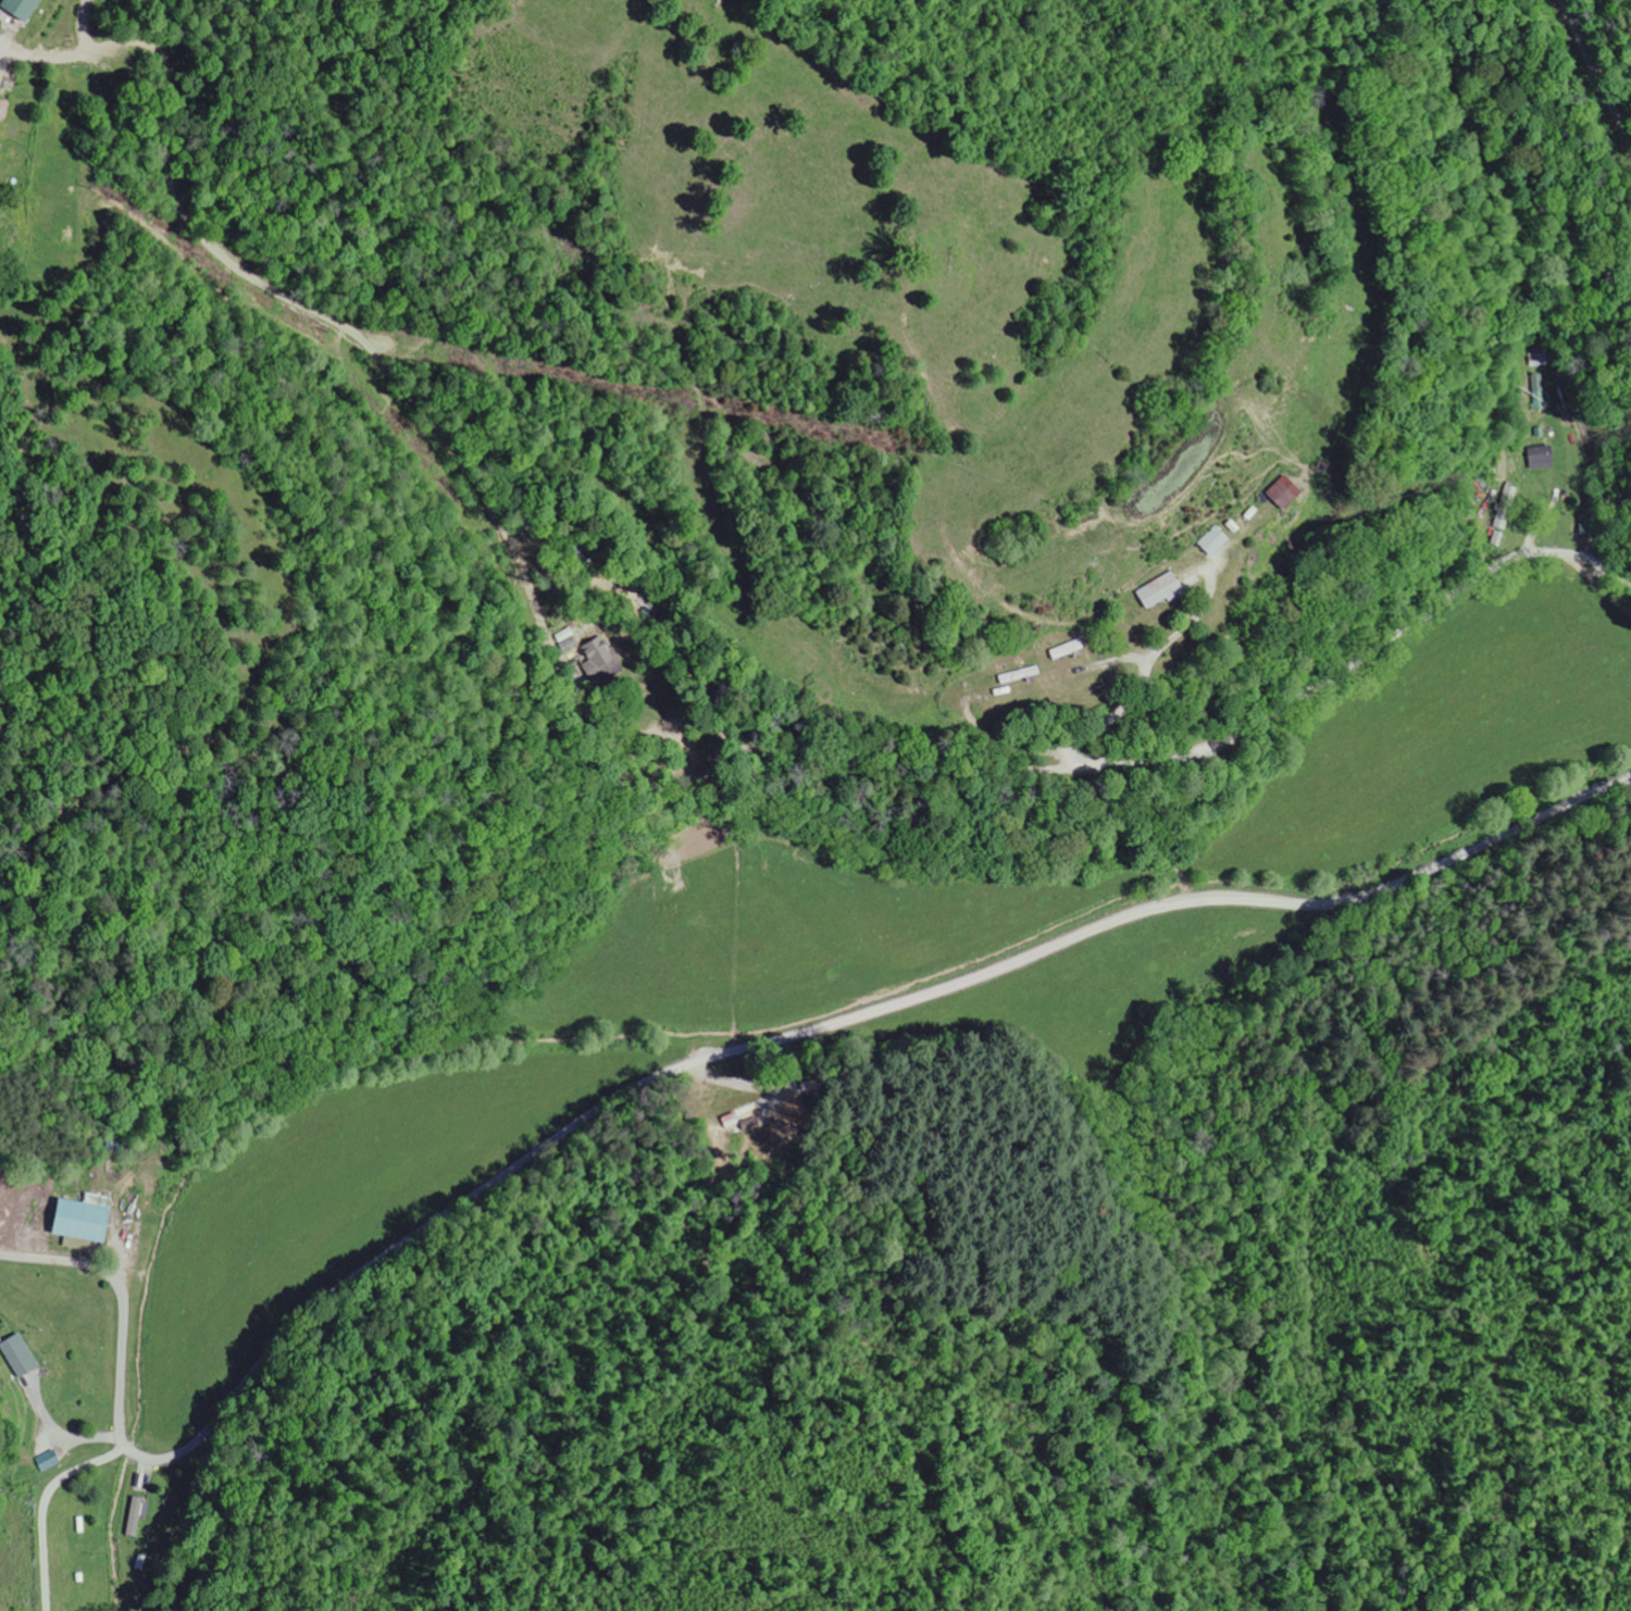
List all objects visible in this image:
building: (22, 8)
road: (1595, 72)
building: (0, 113)
building: (1536, 386)
building: (1541, 459)
building: (1284, 492)
building: (1212, 541)
road: (1557, 555)
road: (1598, 586)
building: (1161, 591)
building: (600, 660)
road: (689, 1062)
building: (84, 1222)
building: (78, 1245)
building: (21, 1357)
building: (49, 1462)
building: (136, 1519)

